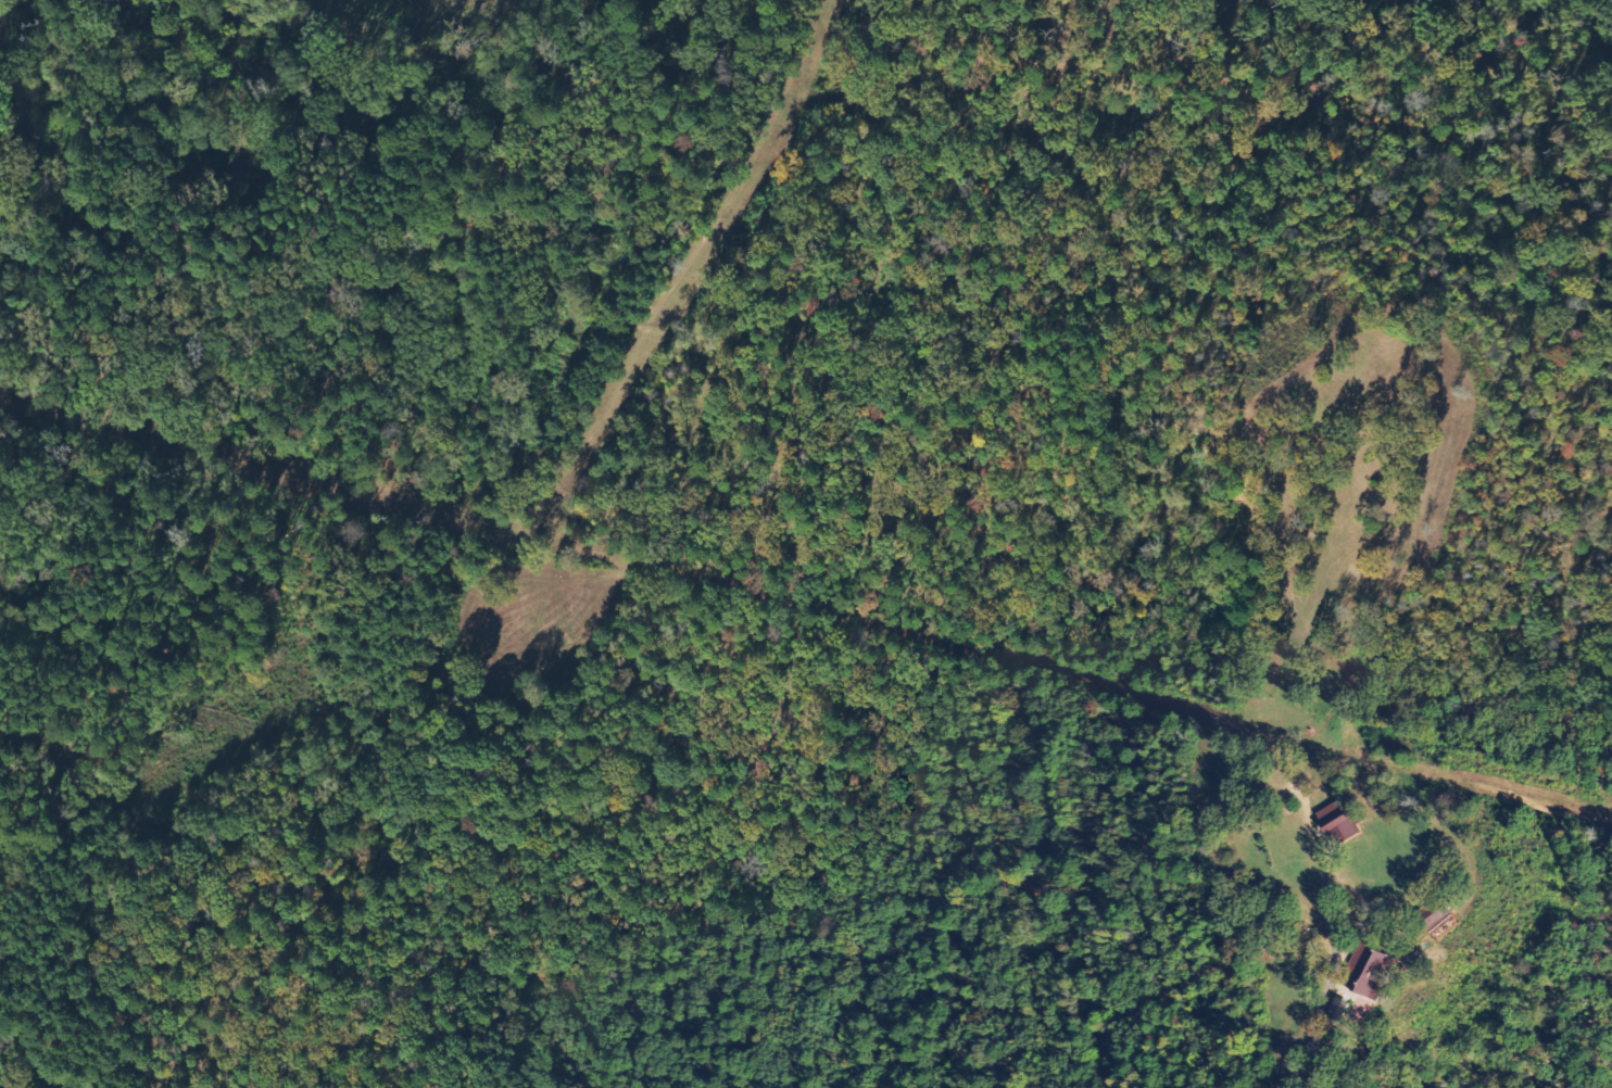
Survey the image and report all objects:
building: (1347, 821)
building: (1372, 974)

